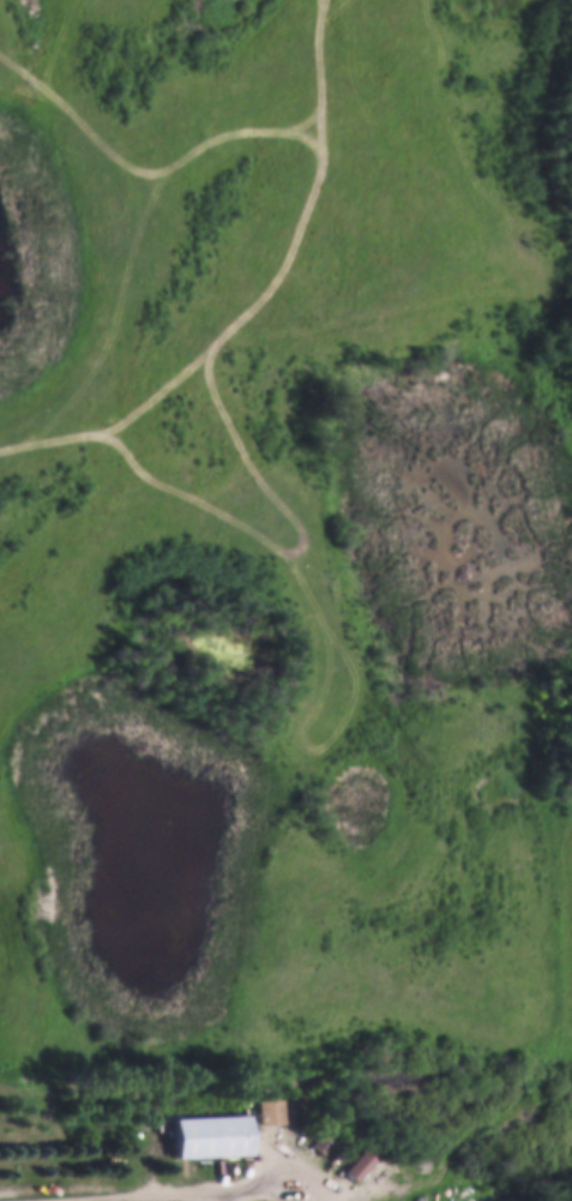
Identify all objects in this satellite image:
building: (267, 1116)
building: (207, 1133)
road: (193, 1193)

